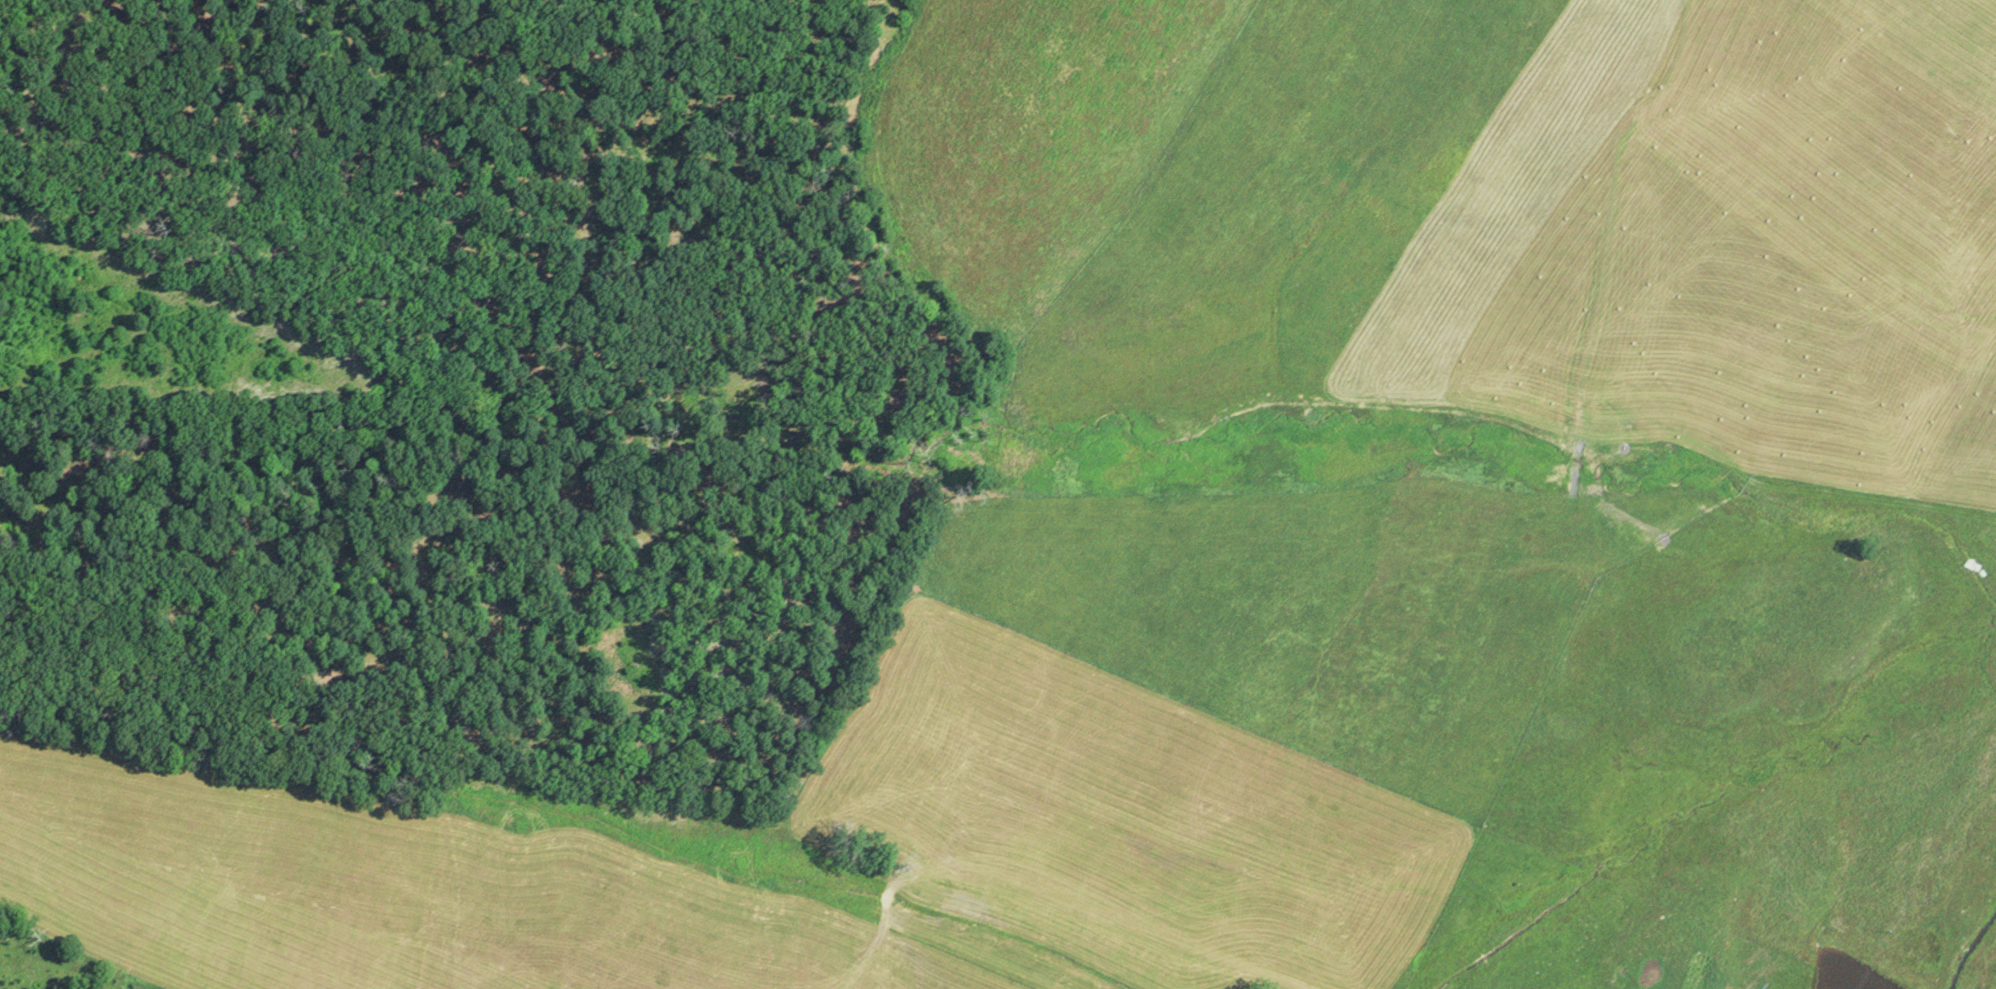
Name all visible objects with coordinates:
building: (1984, 542)
building: (1754, 985)

